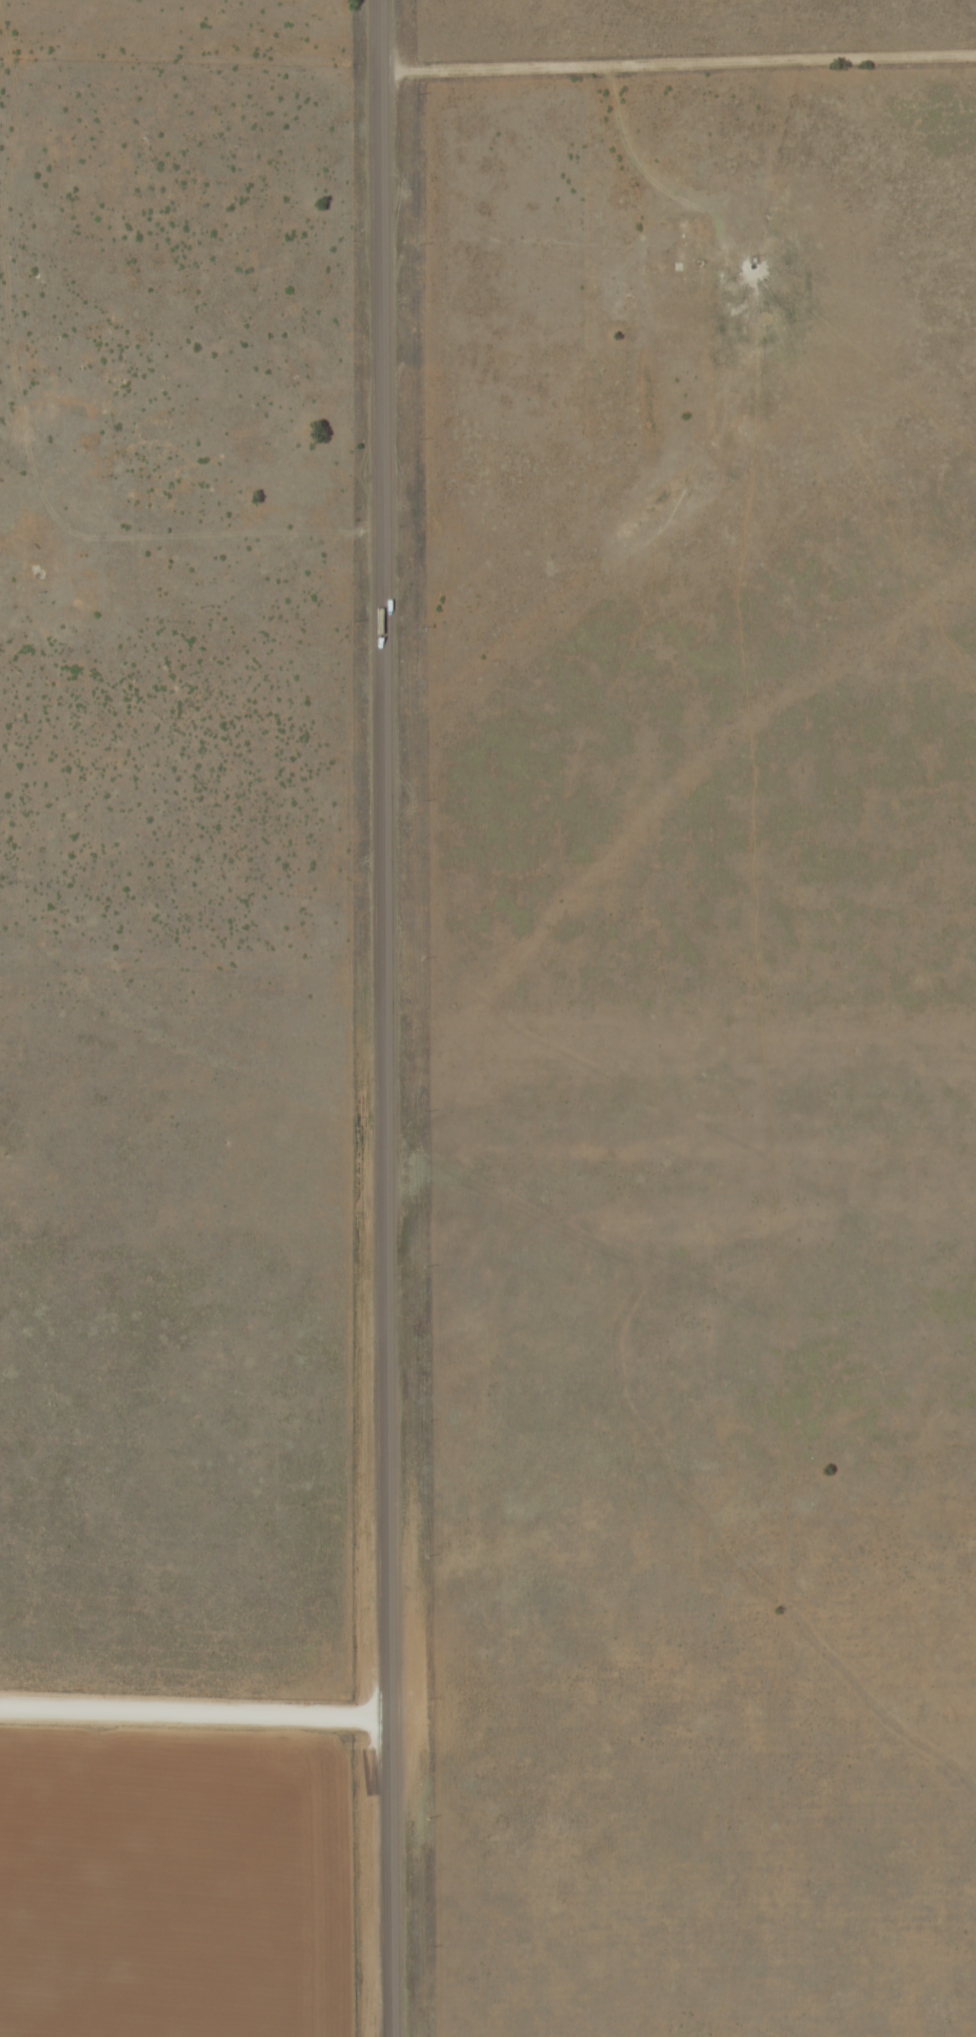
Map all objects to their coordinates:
road: (684, 69)
road: (627, 150)
road: (395, 1018)
road: (199, 1724)

